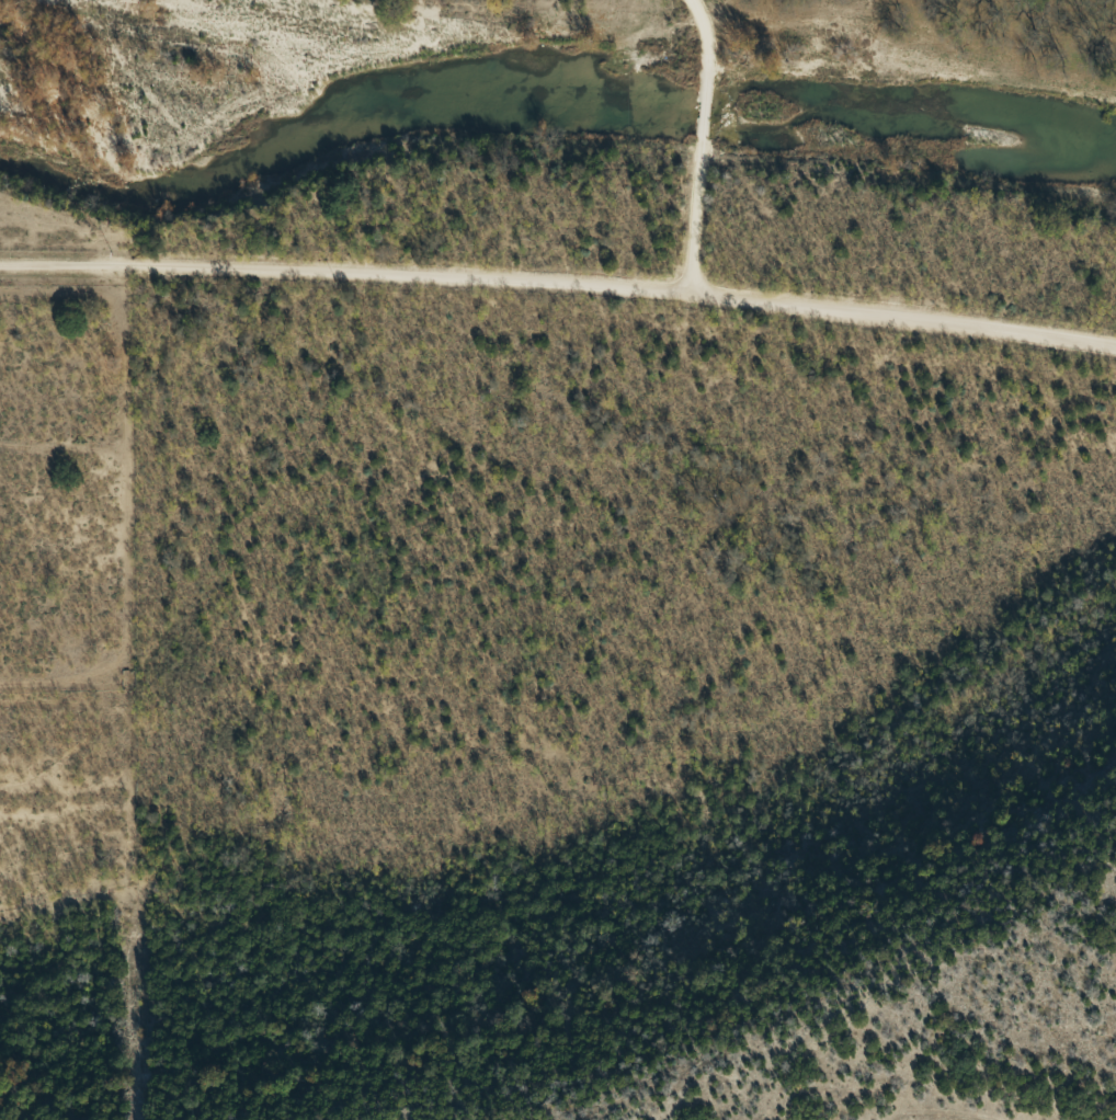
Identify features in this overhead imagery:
road: (697, 50)
river: (546, 78)
road: (701, 201)
road: (351, 281)
road: (911, 311)

